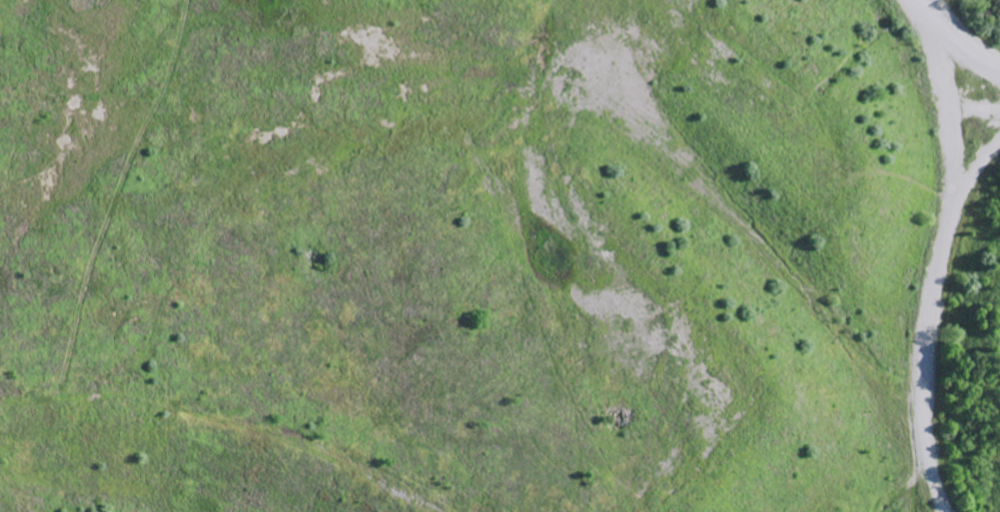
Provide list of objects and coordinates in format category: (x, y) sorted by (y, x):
road: (960, 37)

